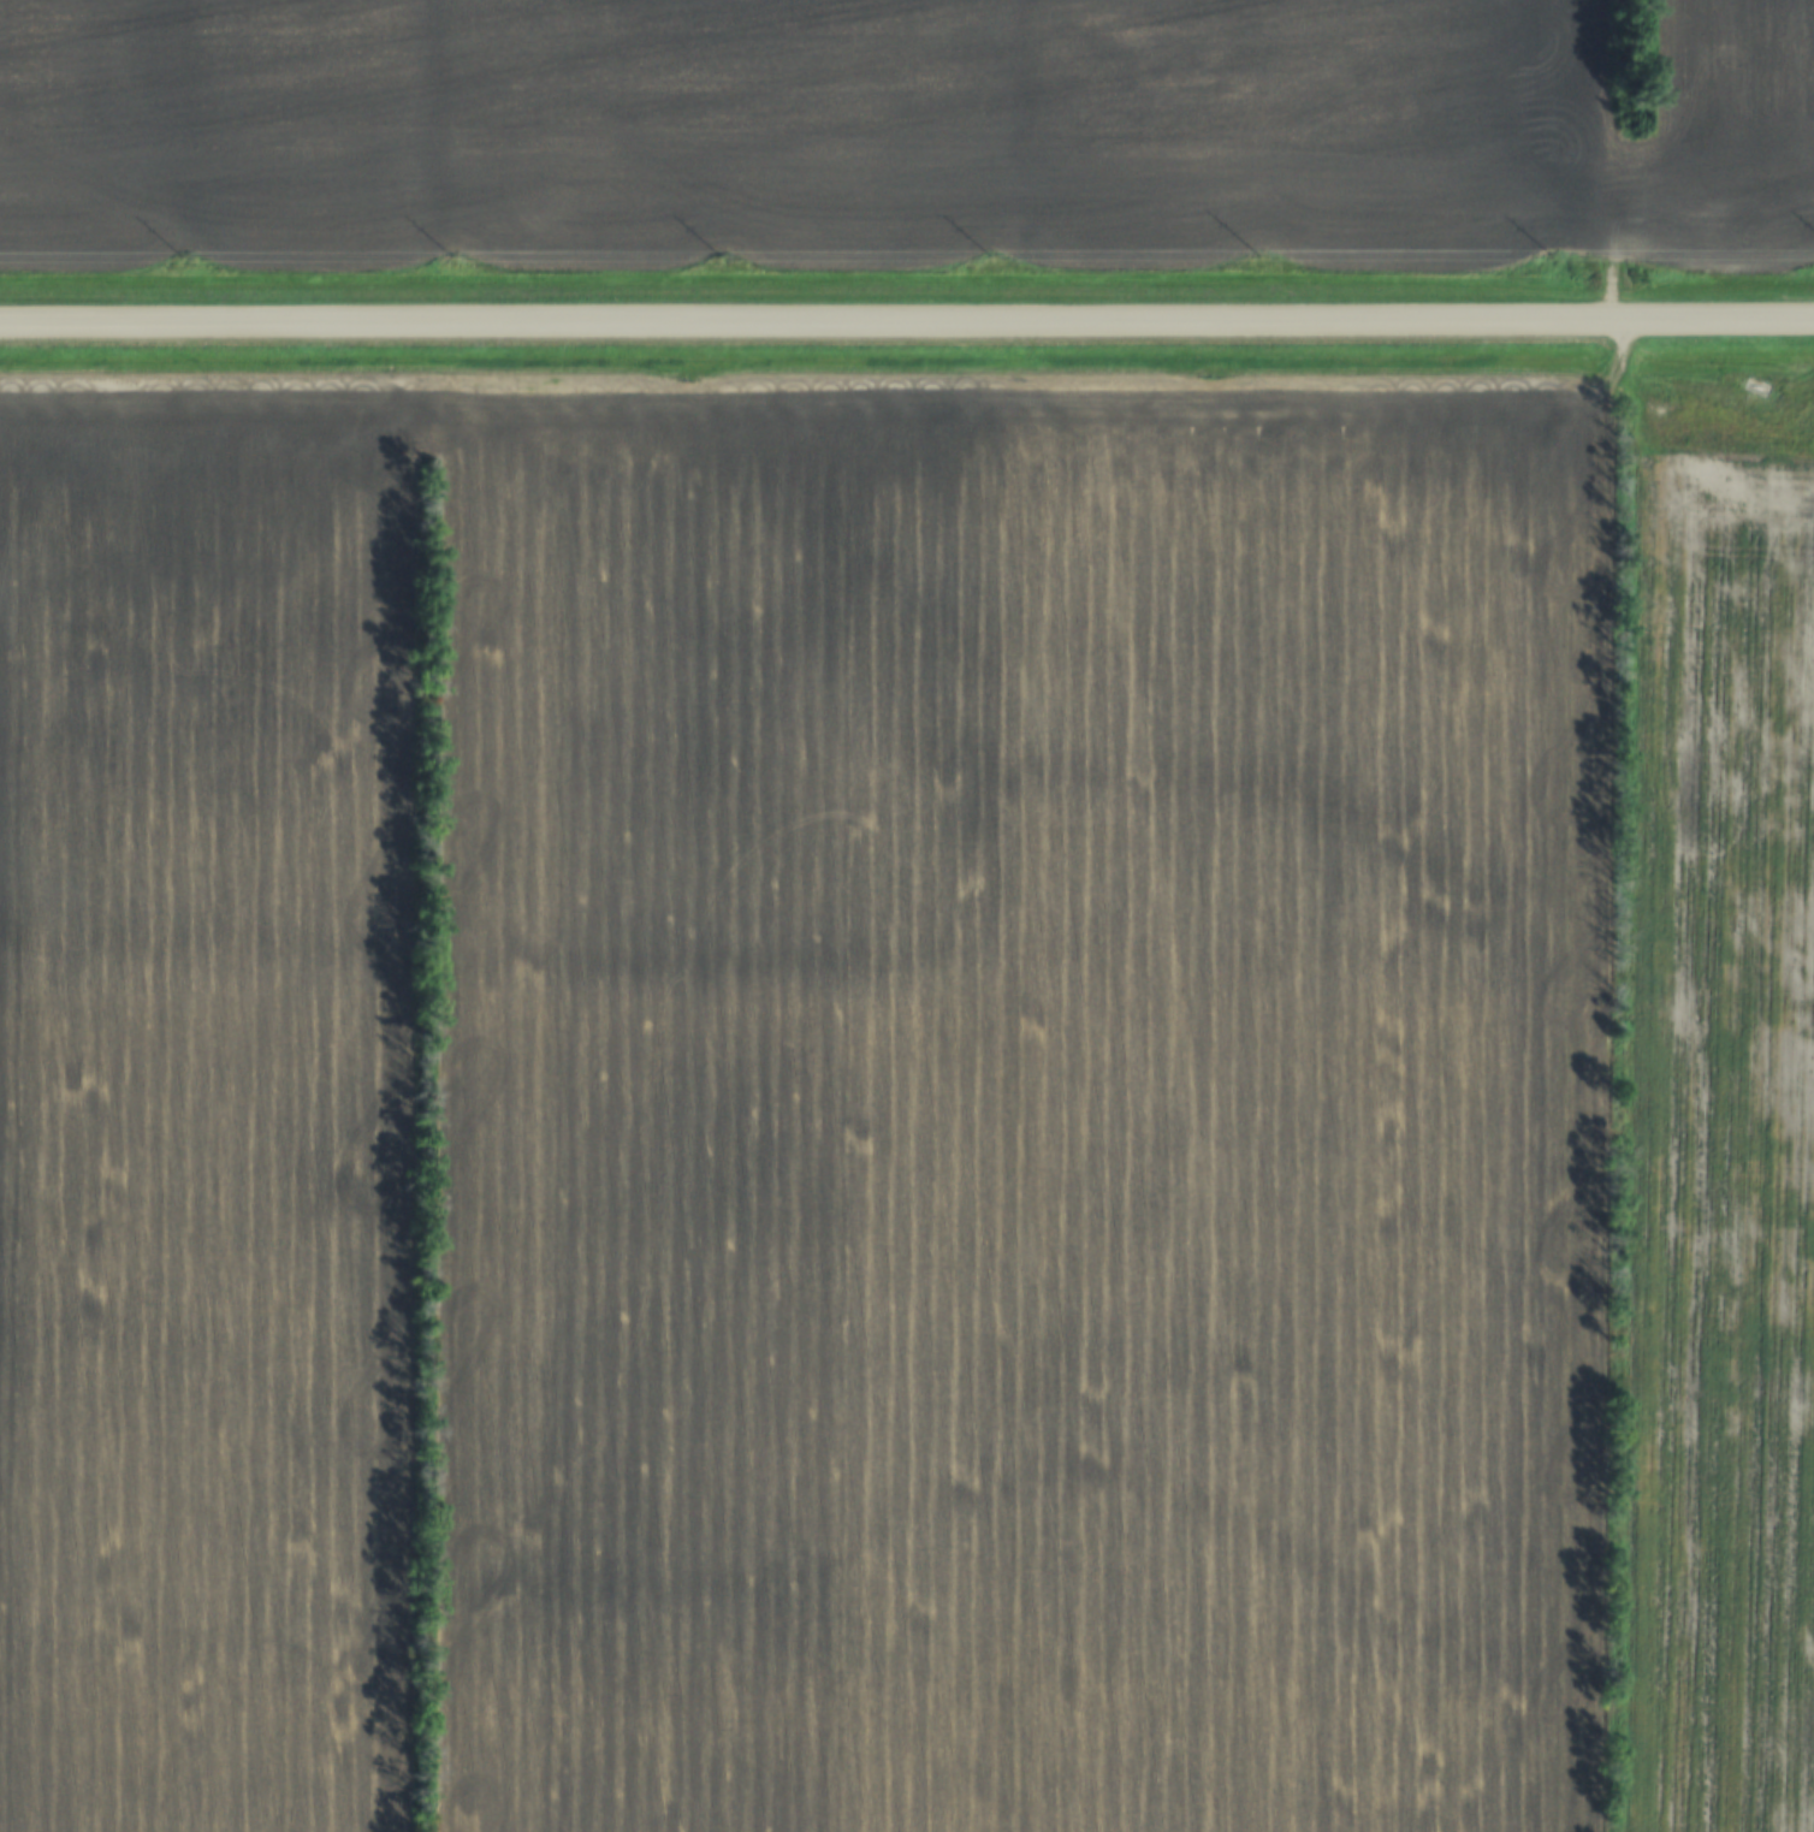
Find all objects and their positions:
road: (907, 321)

